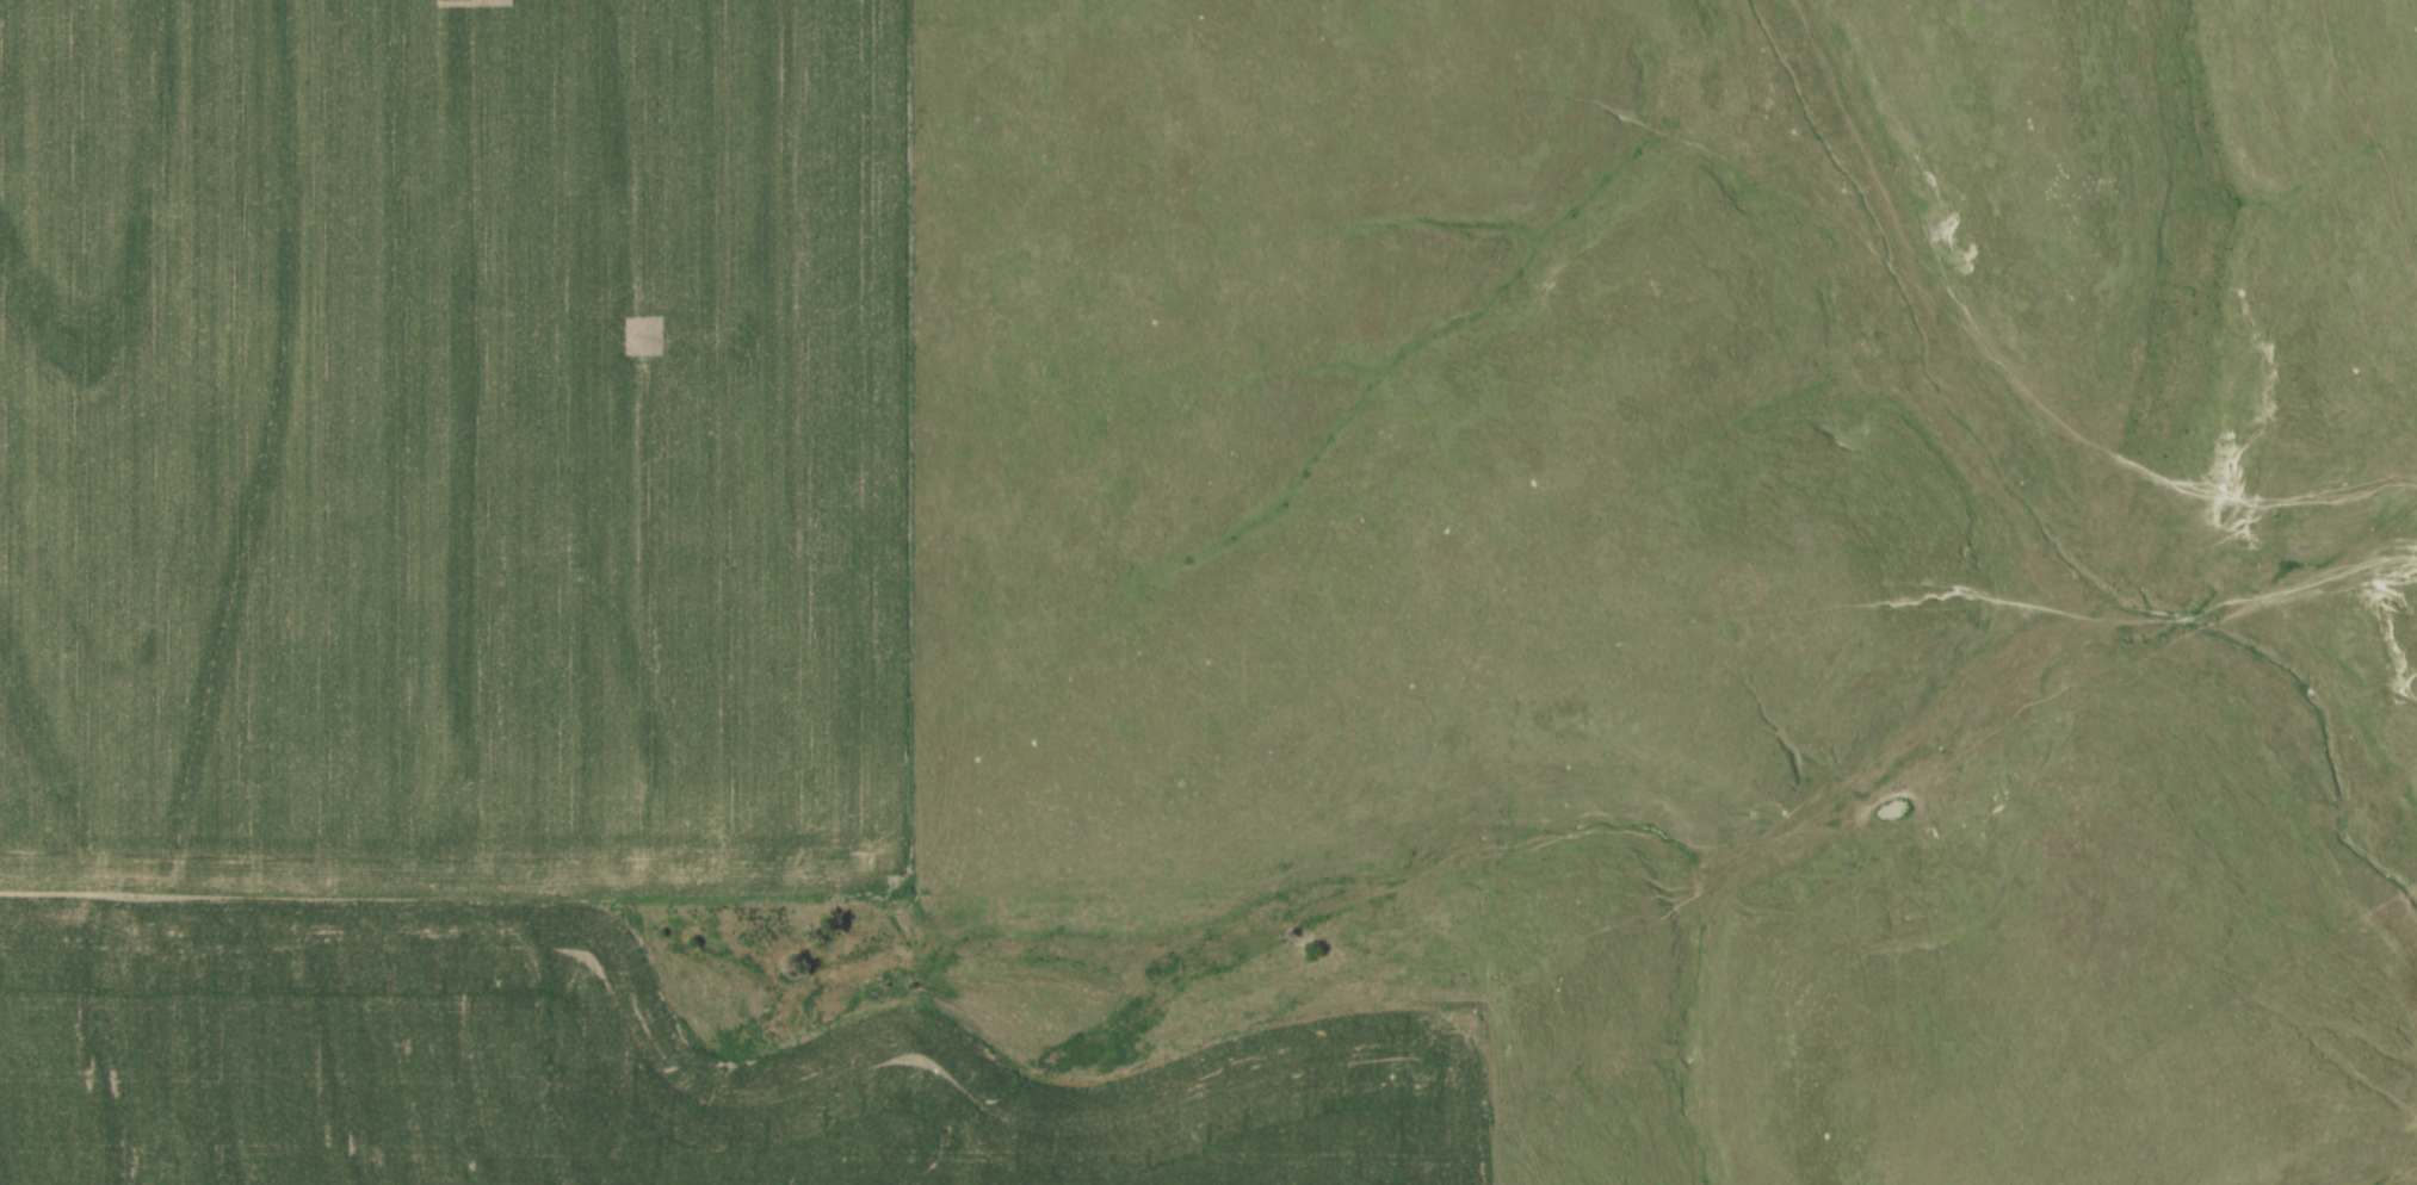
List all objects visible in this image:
crop: (456, 441)
crop: (607, 1061)

